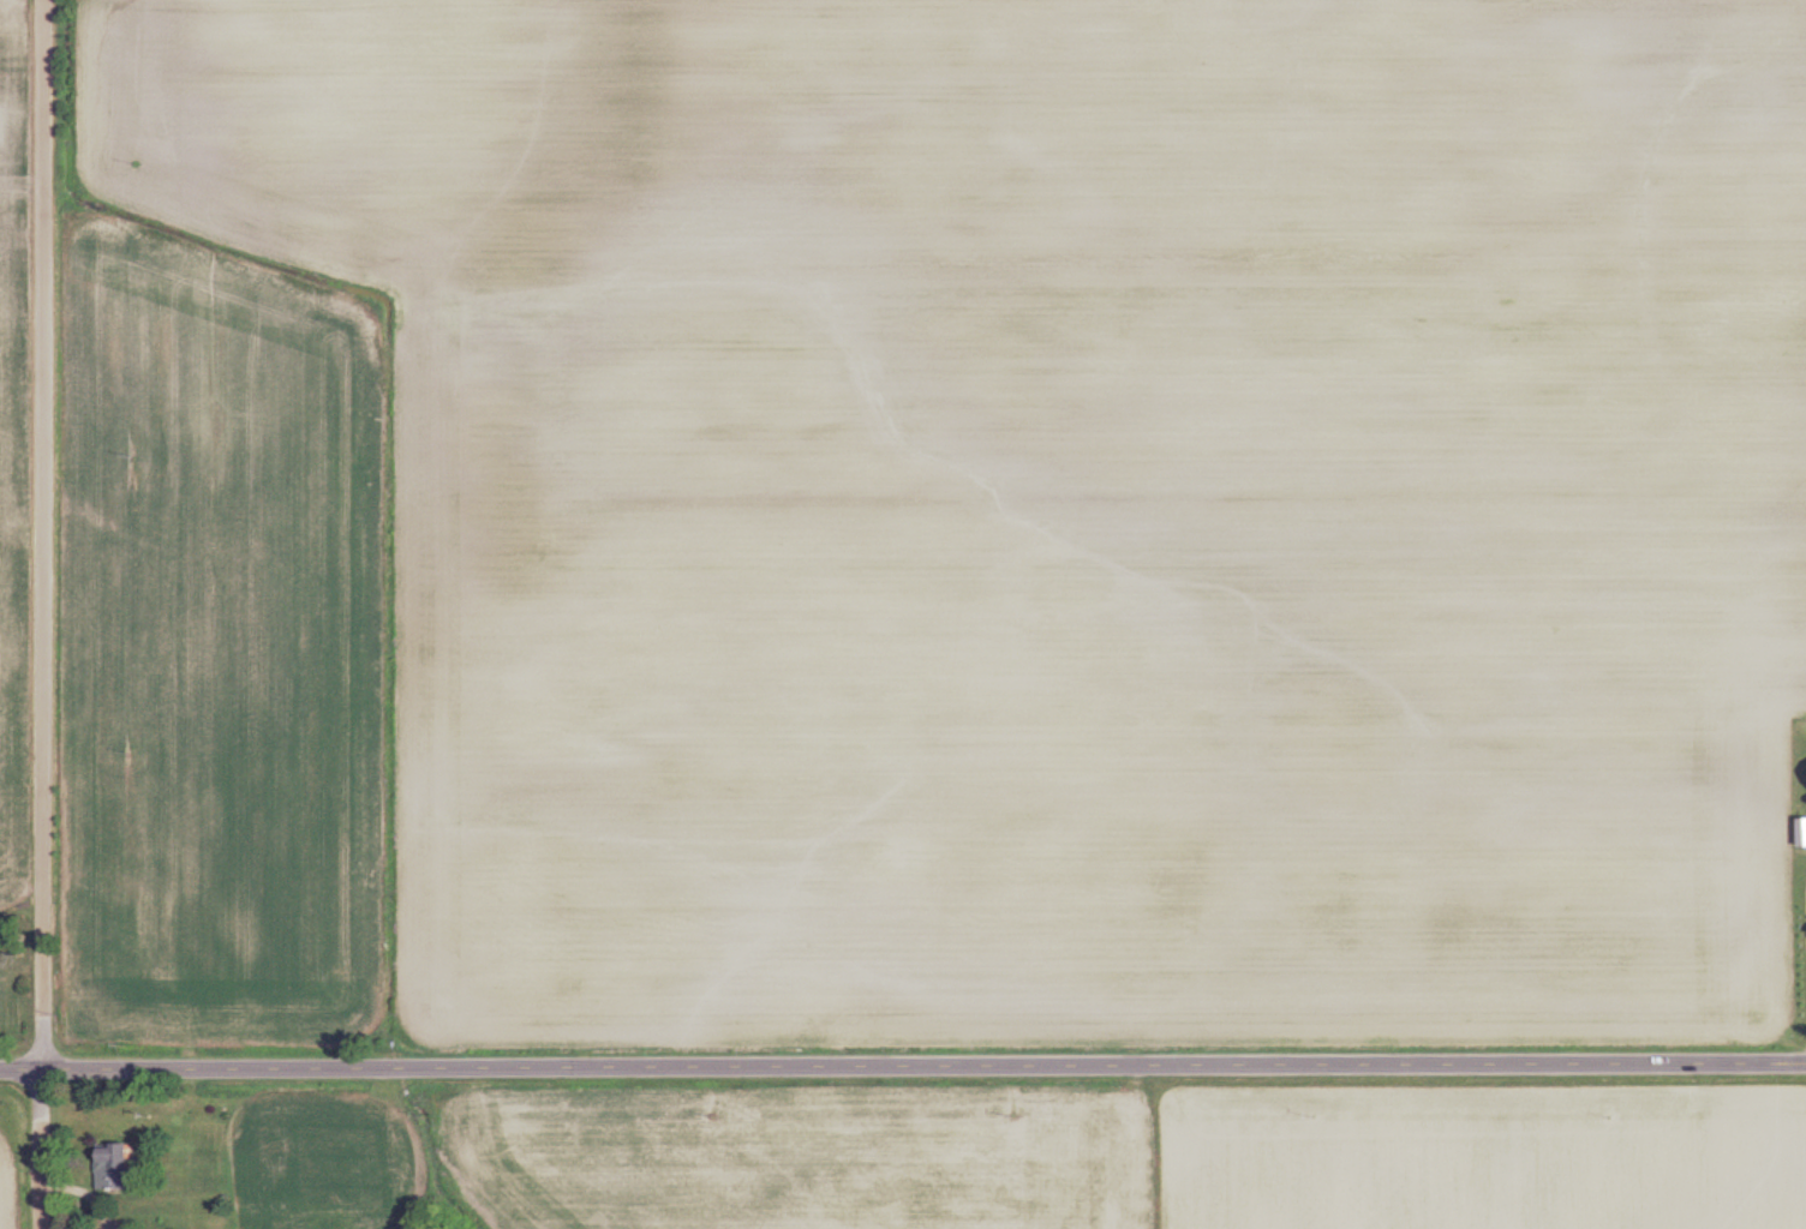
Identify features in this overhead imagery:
road: (42, 614)
road: (903, 1066)
building: (118, 1167)
road: (83, 1193)

